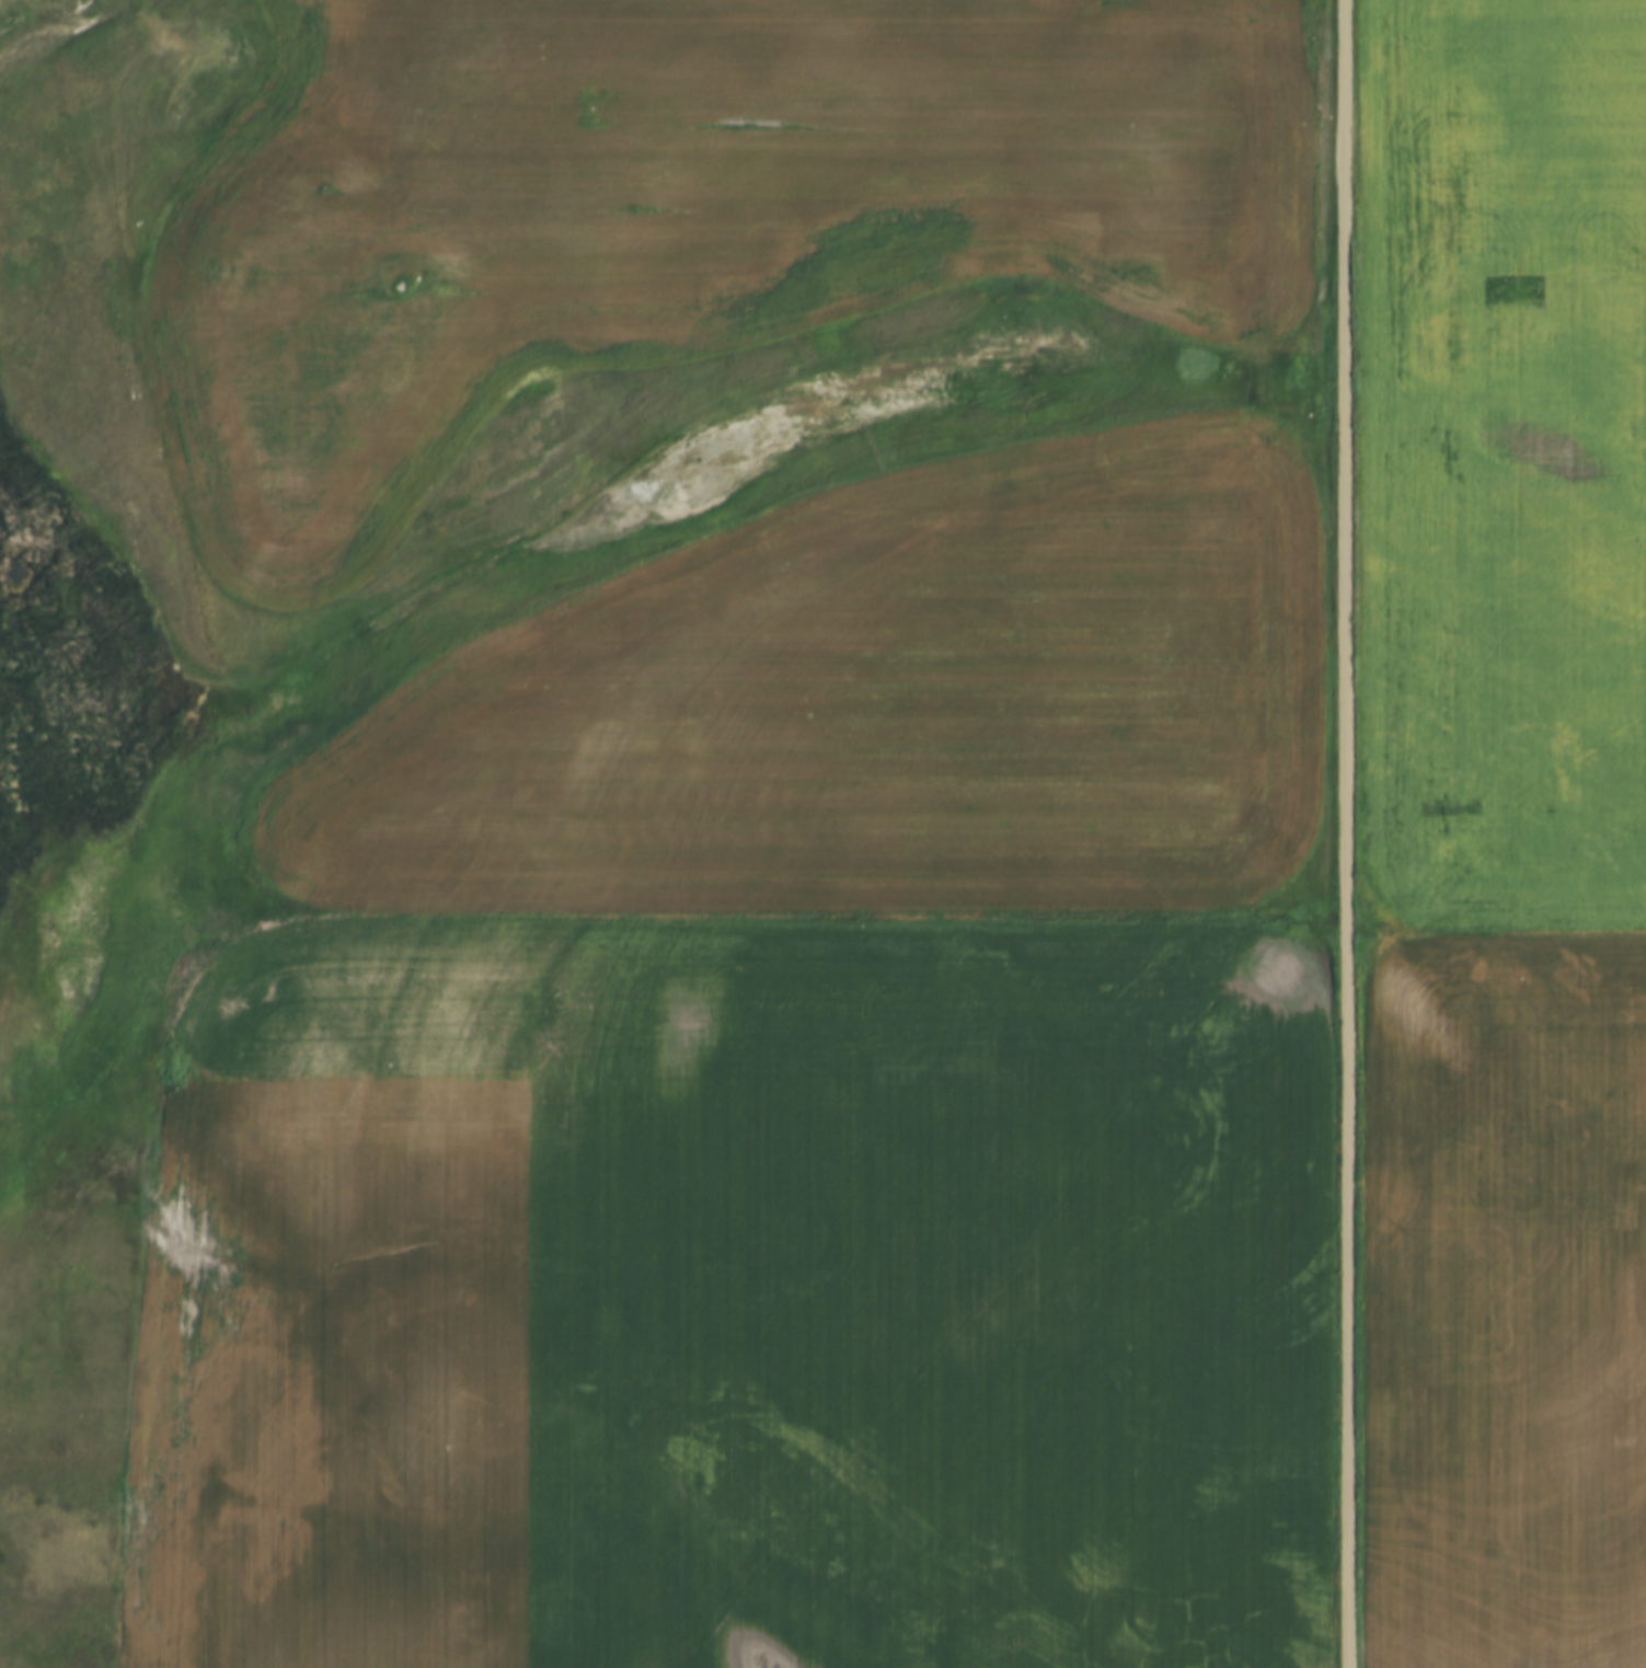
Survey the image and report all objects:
road: (1342, 833)

